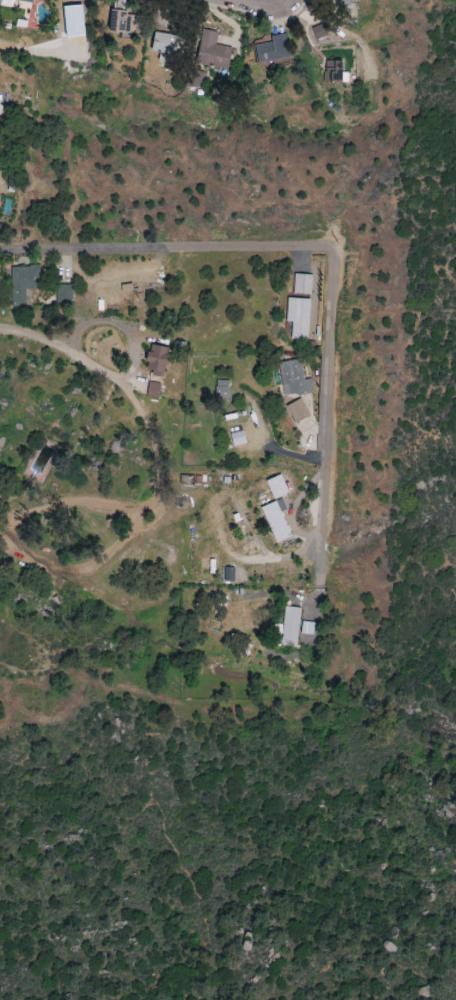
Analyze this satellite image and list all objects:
road: (258, 1)
building: (345, 2)
building: (6, 4)
building: (74, 21)
building: (122, 22)
building: (167, 46)
building: (272, 49)
road: (35, 50)
building: (212, 52)
building: (334, 72)
road: (272, 254)
building: (23, 283)
building: (302, 284)
building: (64, 294)
building: (298, 318)
road: (57, 346)
building: (157, 360)
building: (293, 379)
building: (153, 390)
building: (221, 390)
building: (298, 411)
building: (238, 439)
building: (277, 487)
building: (277, 520)
road: (323, 521)
building: (228, 575)
building: (290, 627)
building: (307, 628)

